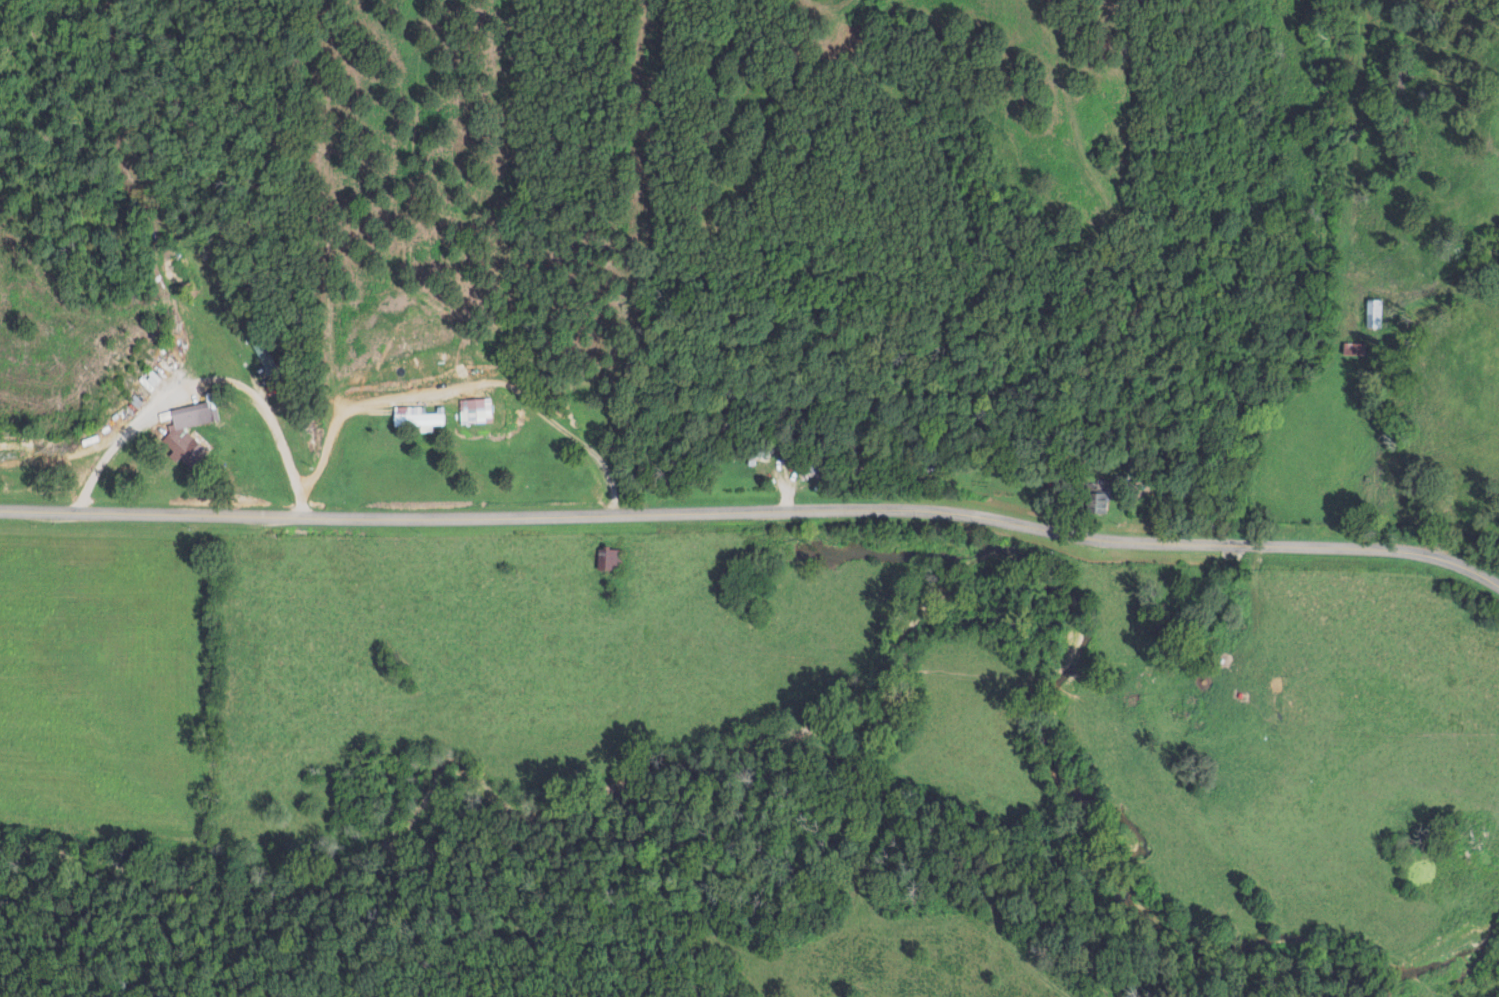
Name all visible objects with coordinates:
building: (1371, 313)
building: (1351, 348)
road: (189, 385)
road: (449, 396)
building: (473, 411)
building: (415, 418)
building: (185, 432)
road: (1347, 461)
road: (852, 473)
road: (754, 507)
building: (610, 559)

